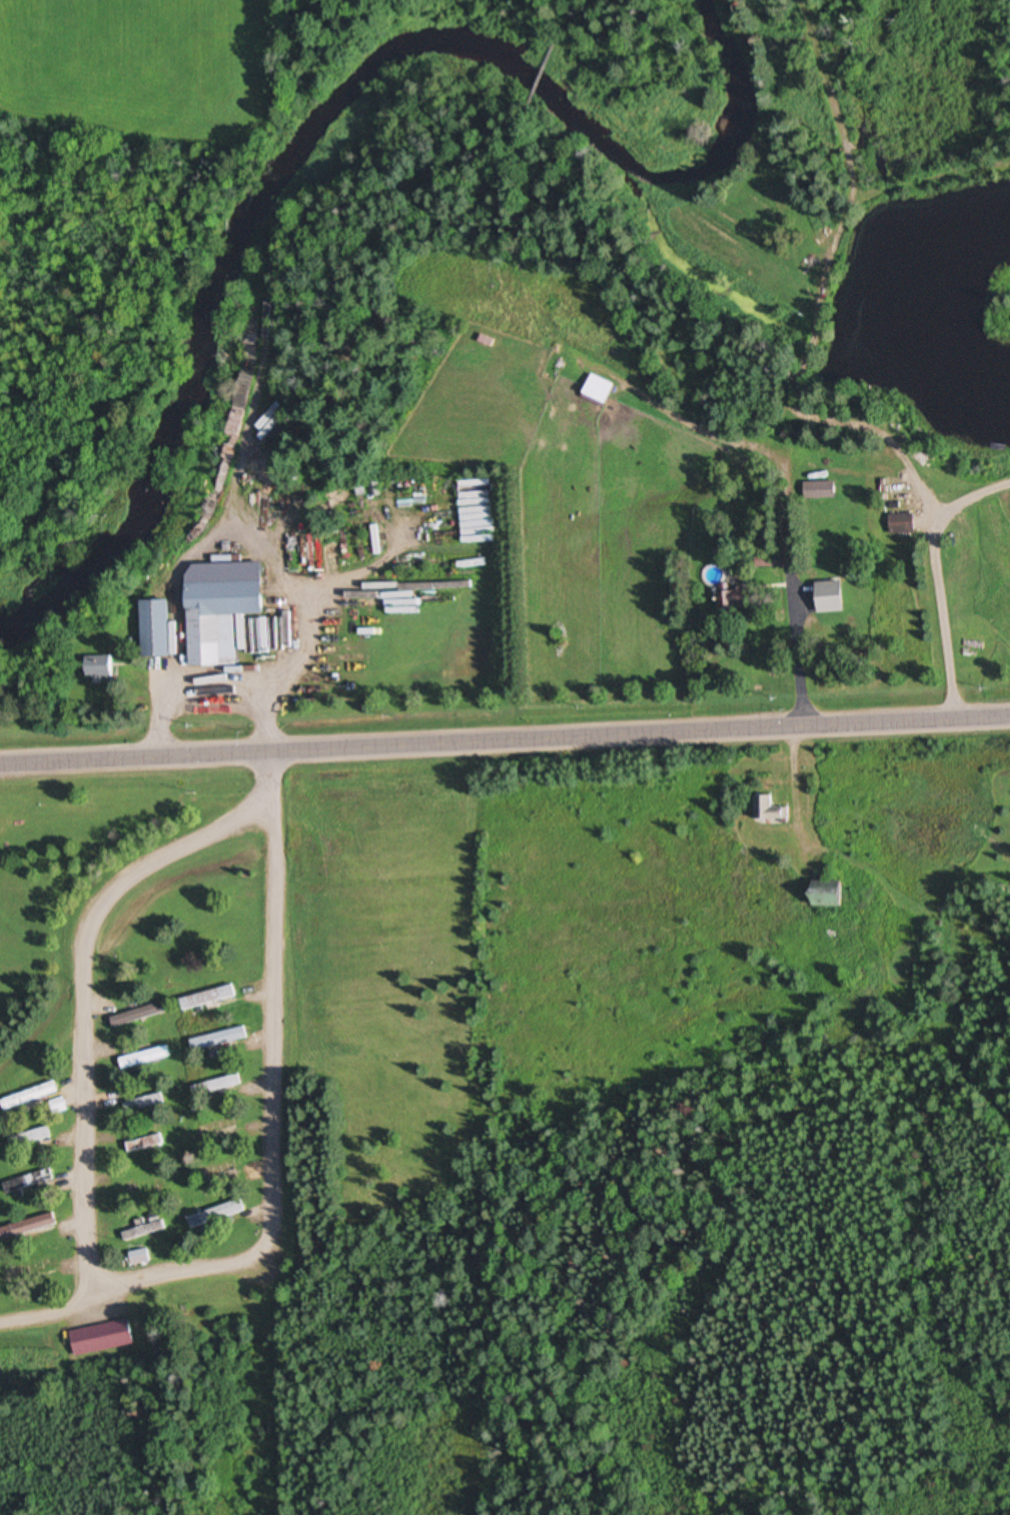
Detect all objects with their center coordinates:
crop: (142, 65)
river: (728, 122)
river: (245, 219)
building: (604, 391)
building: (823, 492)
building: (482, 511)
building: (906, 525)
building: (836, 599)
building: (738, 607)
building: (227, 621)
building: (162, 630)
building: (104, 668)
road: (505, 739)
building: (772, 809)
building: (840, 896)
road: (80, 998)
building: (211, 999)
building: (141, 1016)
building: (221, 1040)
building: (148, 1059)
building: (218, 1086)
building: (32, 1097)
building: (145, 1105)
building: (61, 1107)
building: (32, 1138)
road: (275, 1140)
building: (145, 1146)
building: (220, 1170)
building: (31, 1182)
building: (219, 1216)
building: (31, 1228)
building: (146, 1232)
building: (142, 1258)
building: (32, 1271)
building: (105, 1339)

